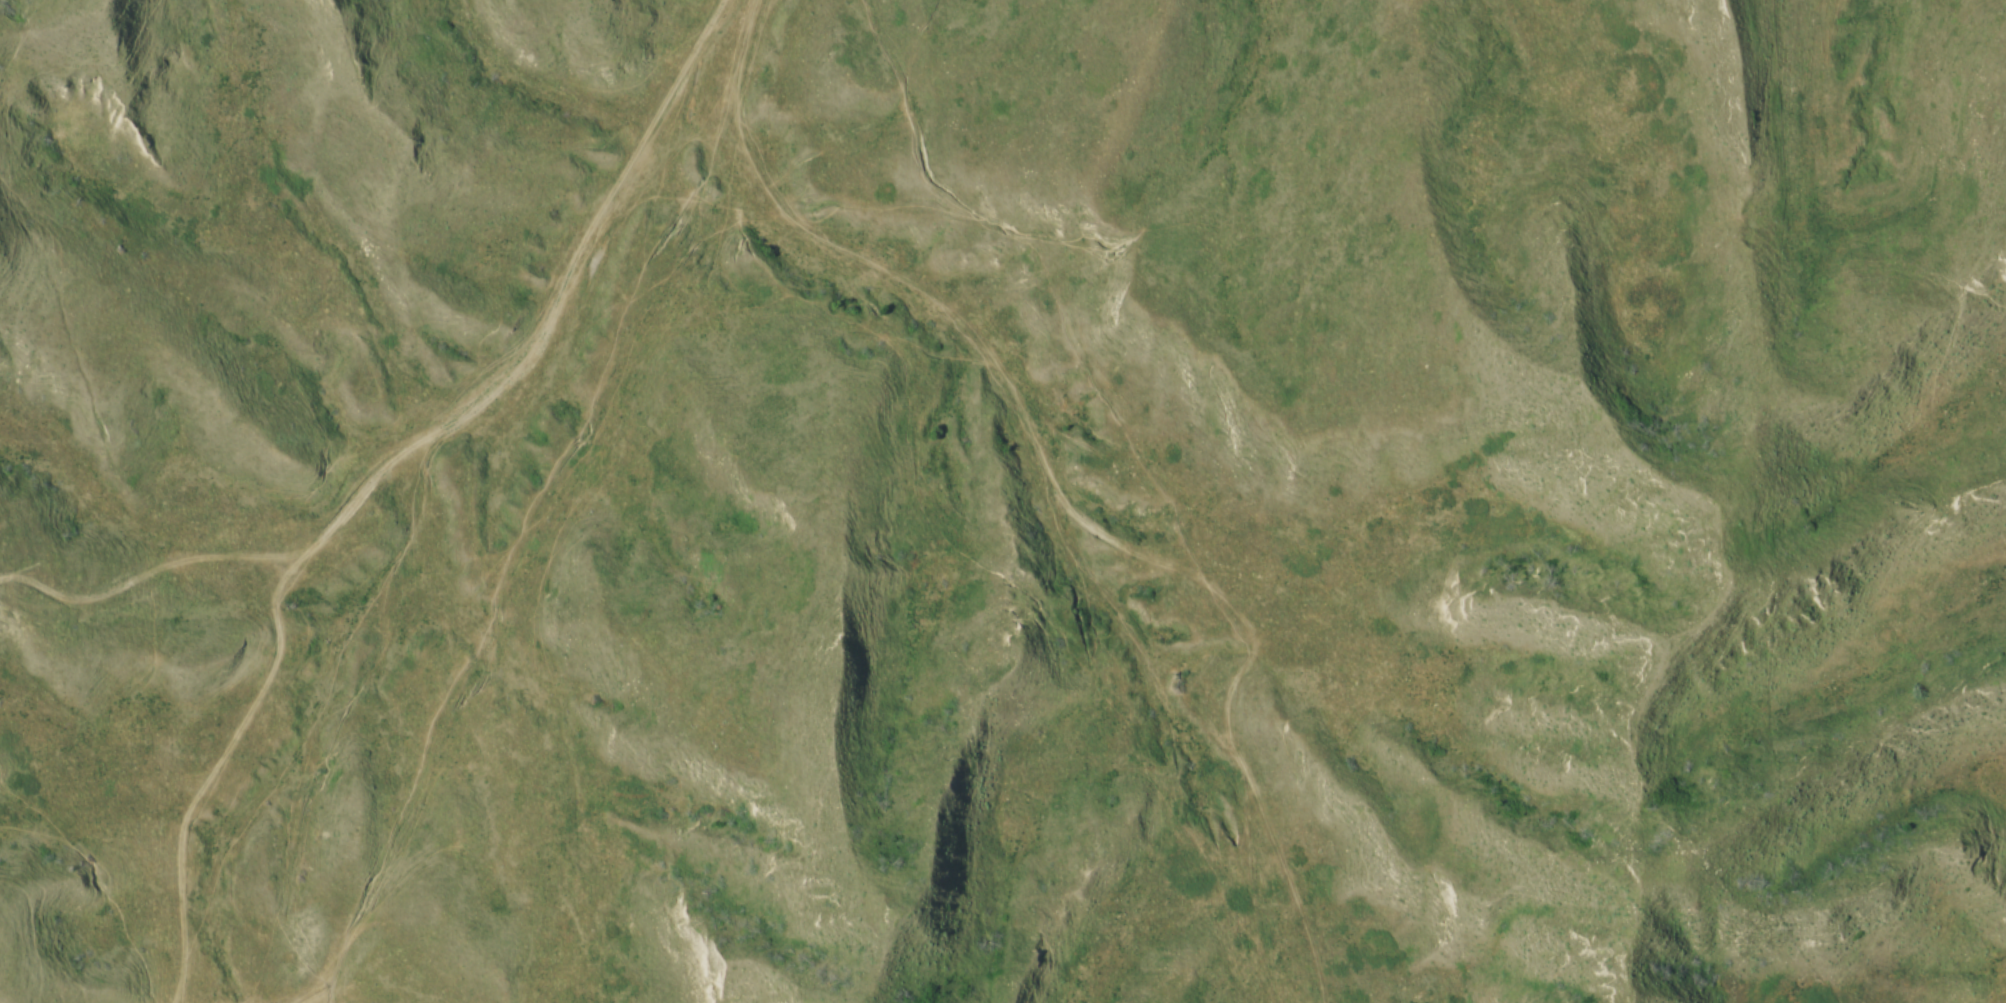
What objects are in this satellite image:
road: (550, 306)

